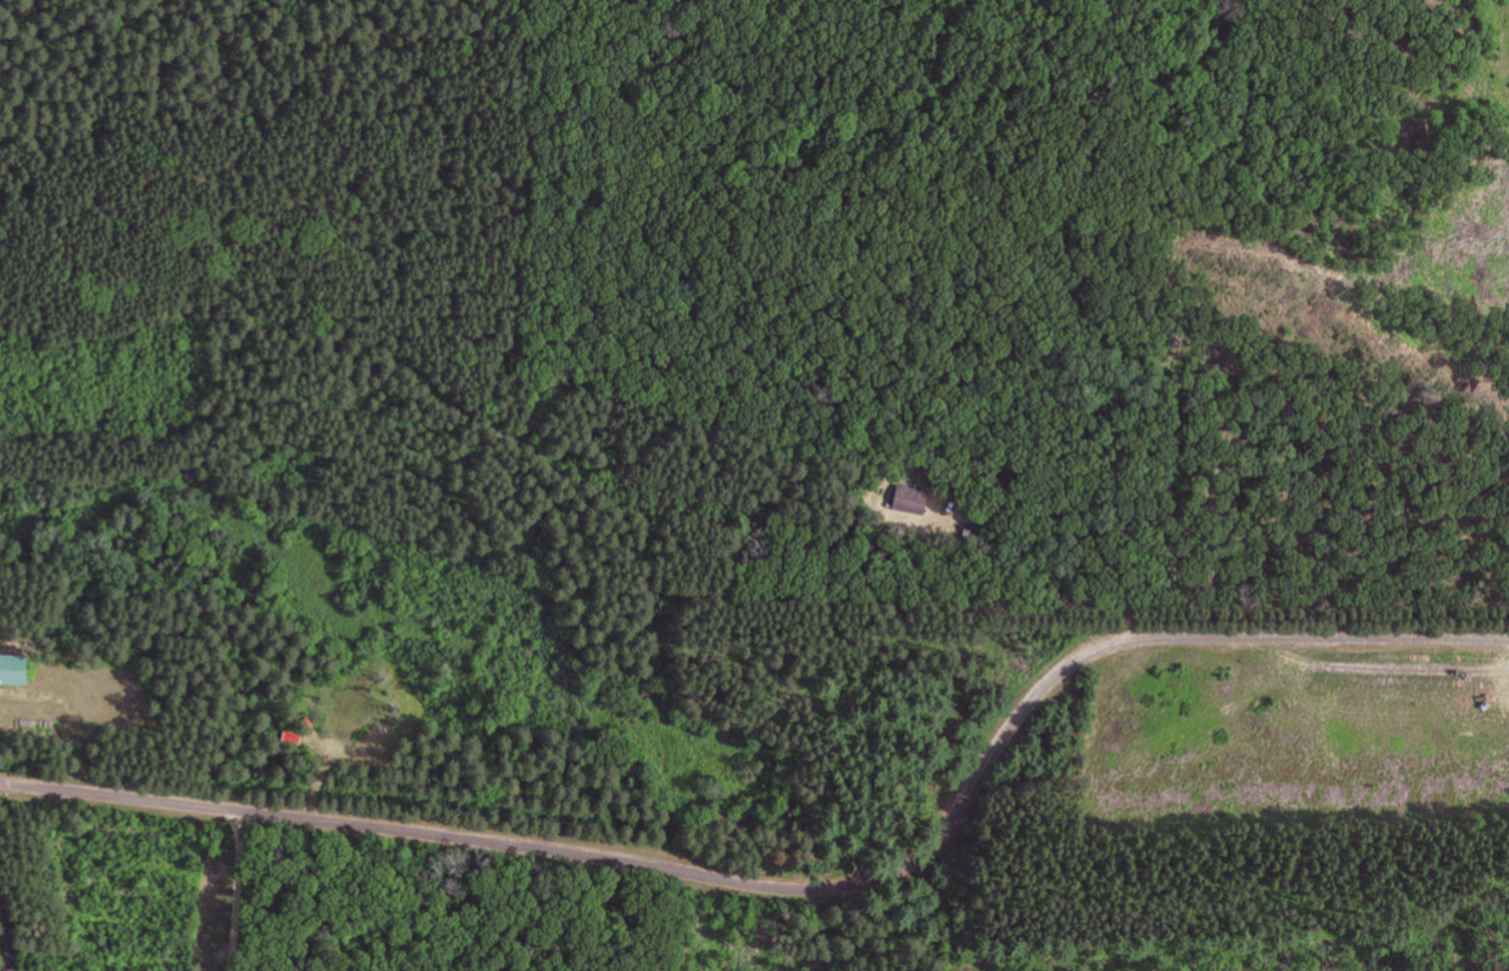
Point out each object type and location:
building: (868, 492)
building: (910, 499)
building: (14, 669)
parking lot: (1436, 709)
road: (806, 883)
road: (226, 887)

